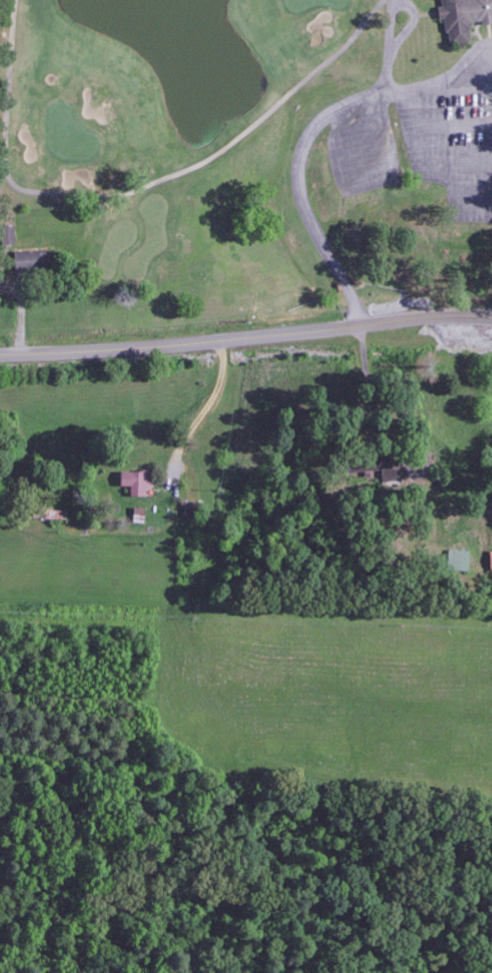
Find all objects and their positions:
building: (466, 17)
building: (34, 261)
road: (246, 338)
building: (394, 473)
building: (139, 483)
building: (194, 511)
building: (462, 560)

